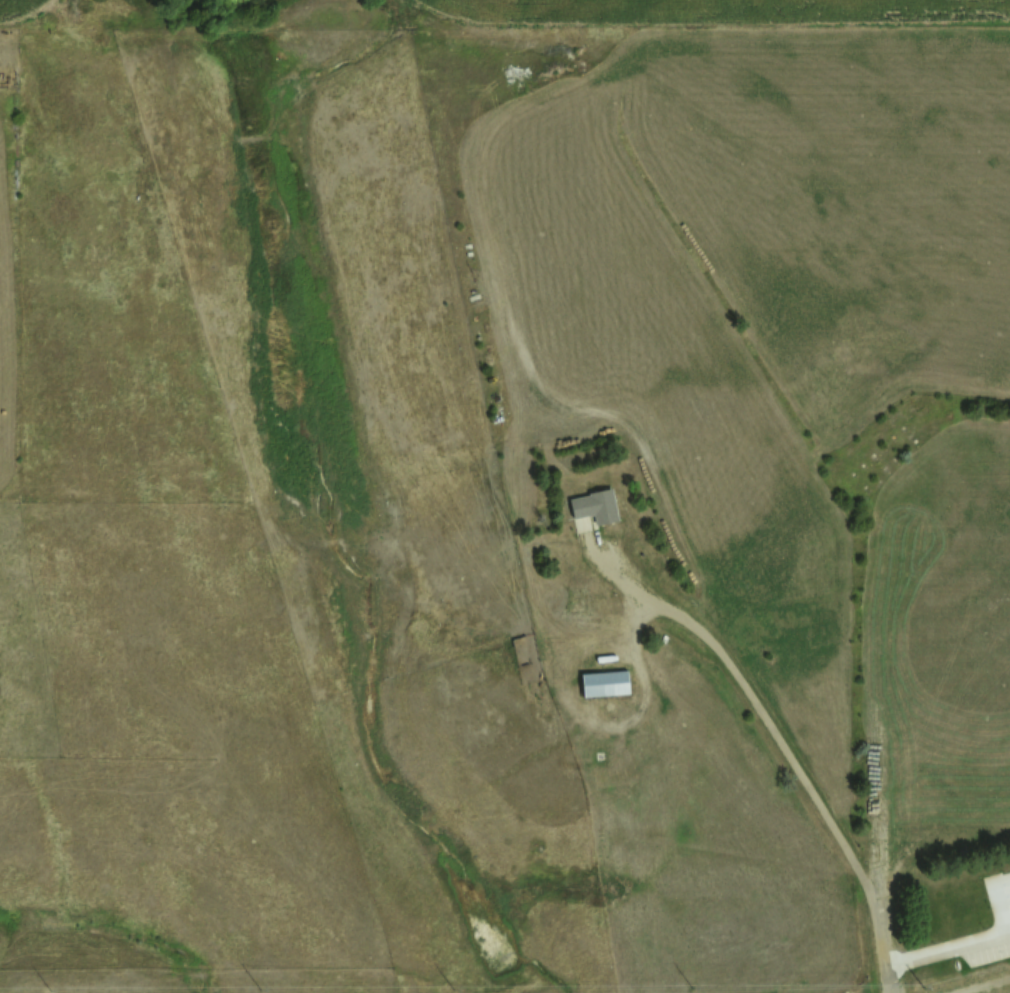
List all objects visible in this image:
building: (594, 505)
building: (603, 682)
road: (896, 864)
building: (963, 901)

